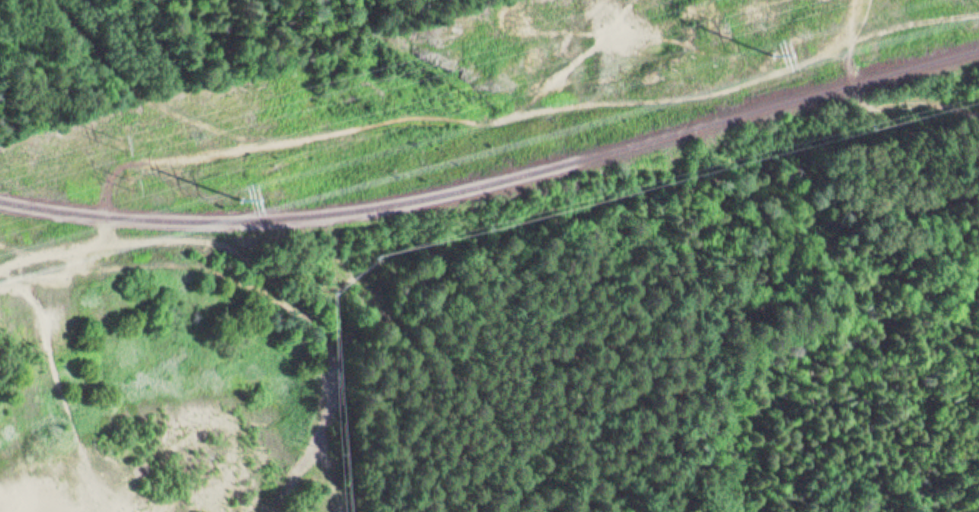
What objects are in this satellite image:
power tower: (718, 24)
power tower: (777, 55)
road: (868, 101)
road: (434, 112)
power tower: (127, 142)
road: (779, 172)
power tower: (137, 180)
railway: (496, 180)
power tower: (244, 200)
road: (969, 213)
road: (261, 285)
road: (810, 287)
road: (575, 357)

